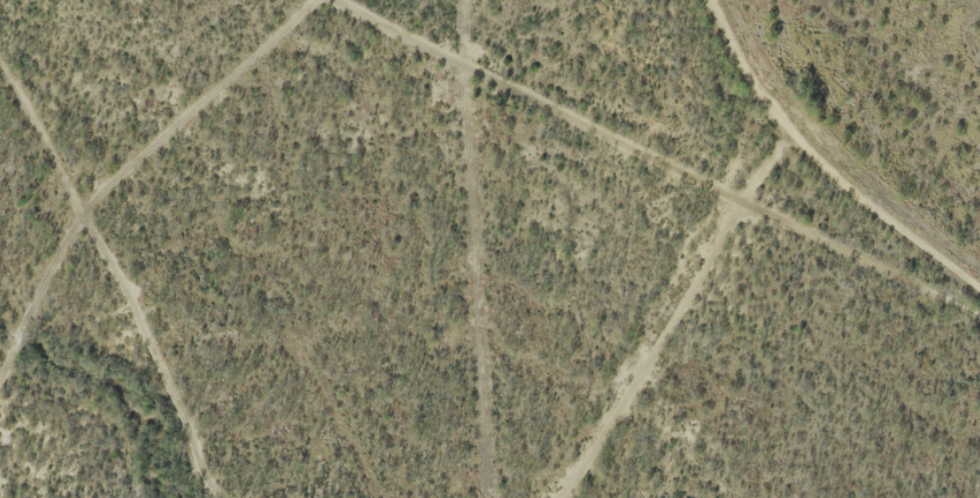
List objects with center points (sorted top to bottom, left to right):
road: (824, 163)

